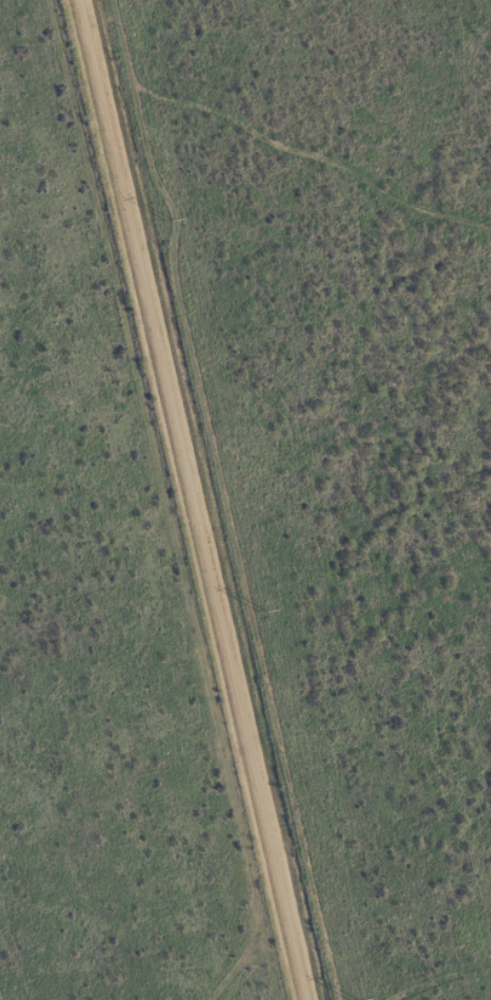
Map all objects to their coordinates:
road: (166, 500)

